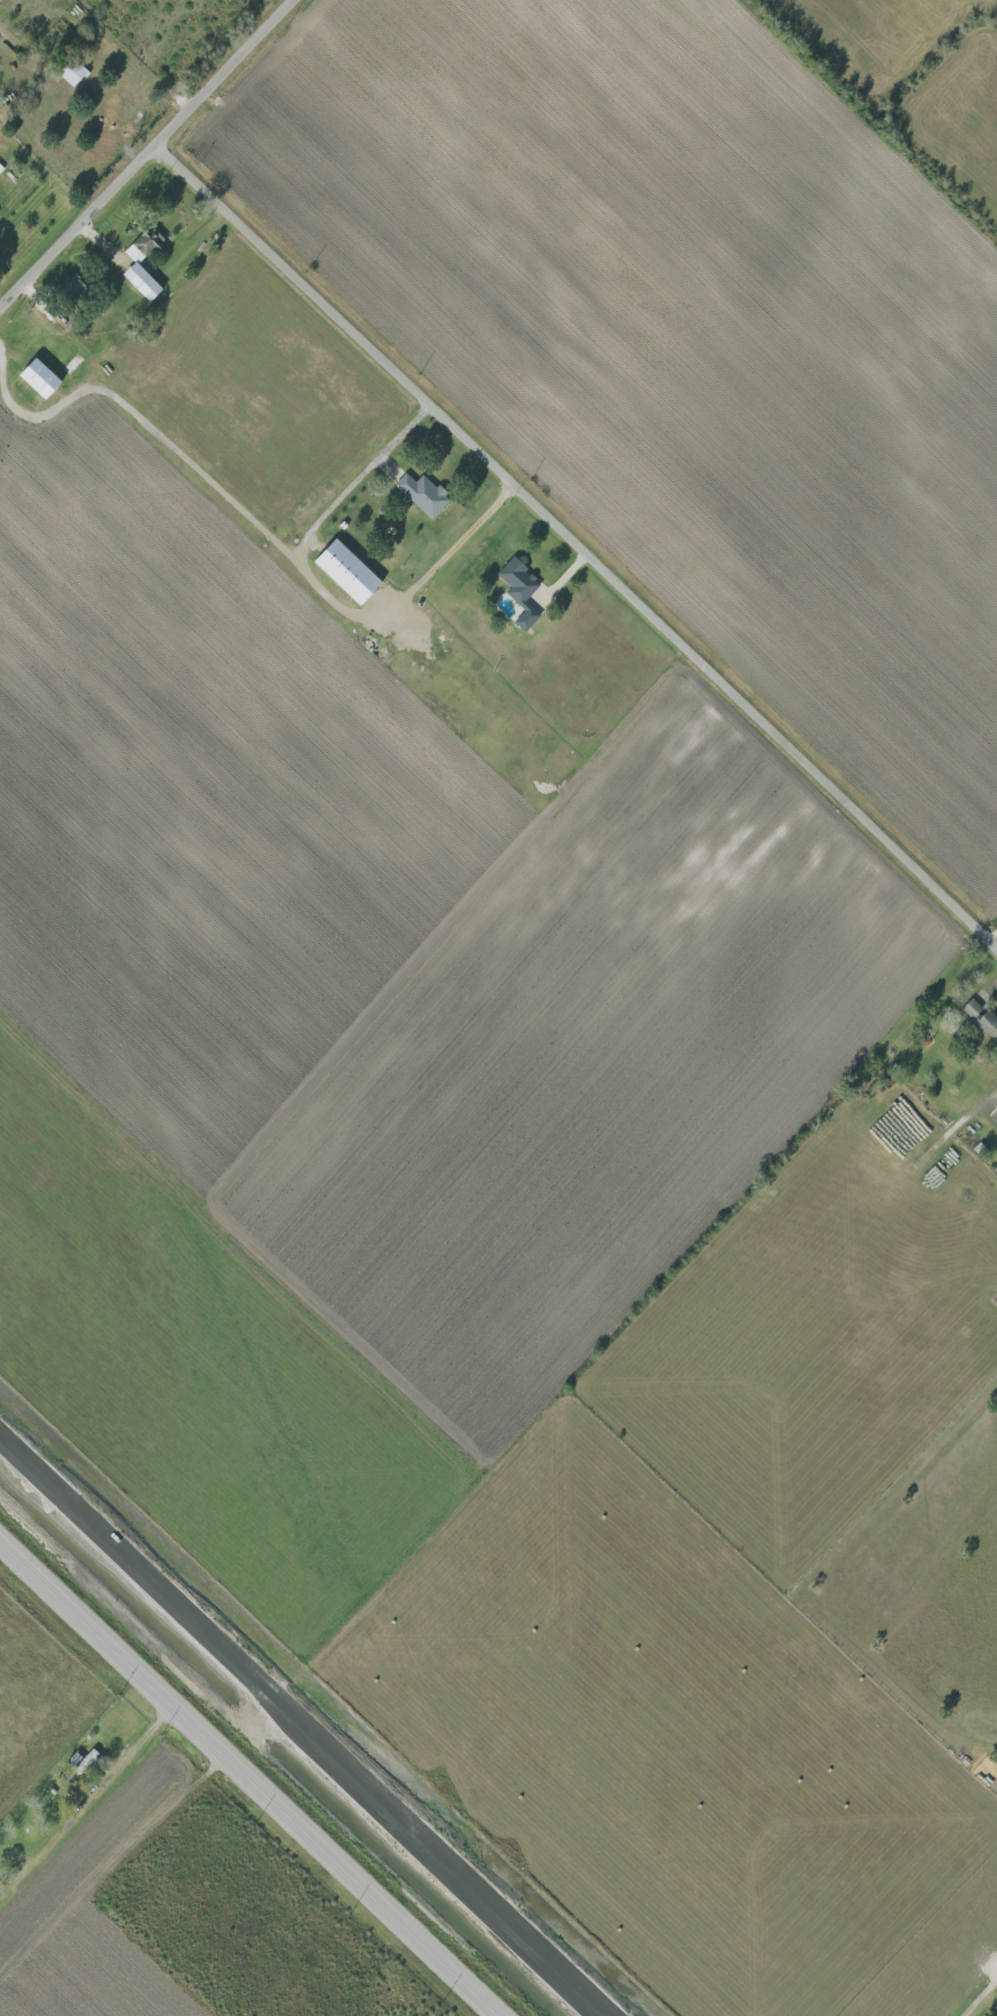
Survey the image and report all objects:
building: (70, 74)
road: (148, 157)
building: (132, 264)
building: (34, 377)
road: (140, 418)
building: (420, 494)
road: (580, 540)
building: (342, 571)
building: (517, 591)
road: (339, 601)
building: (979, 1018)
road: (134, 1748)
road: (246, 1779)
road: (979, 1996)
building: (995, 2009)

